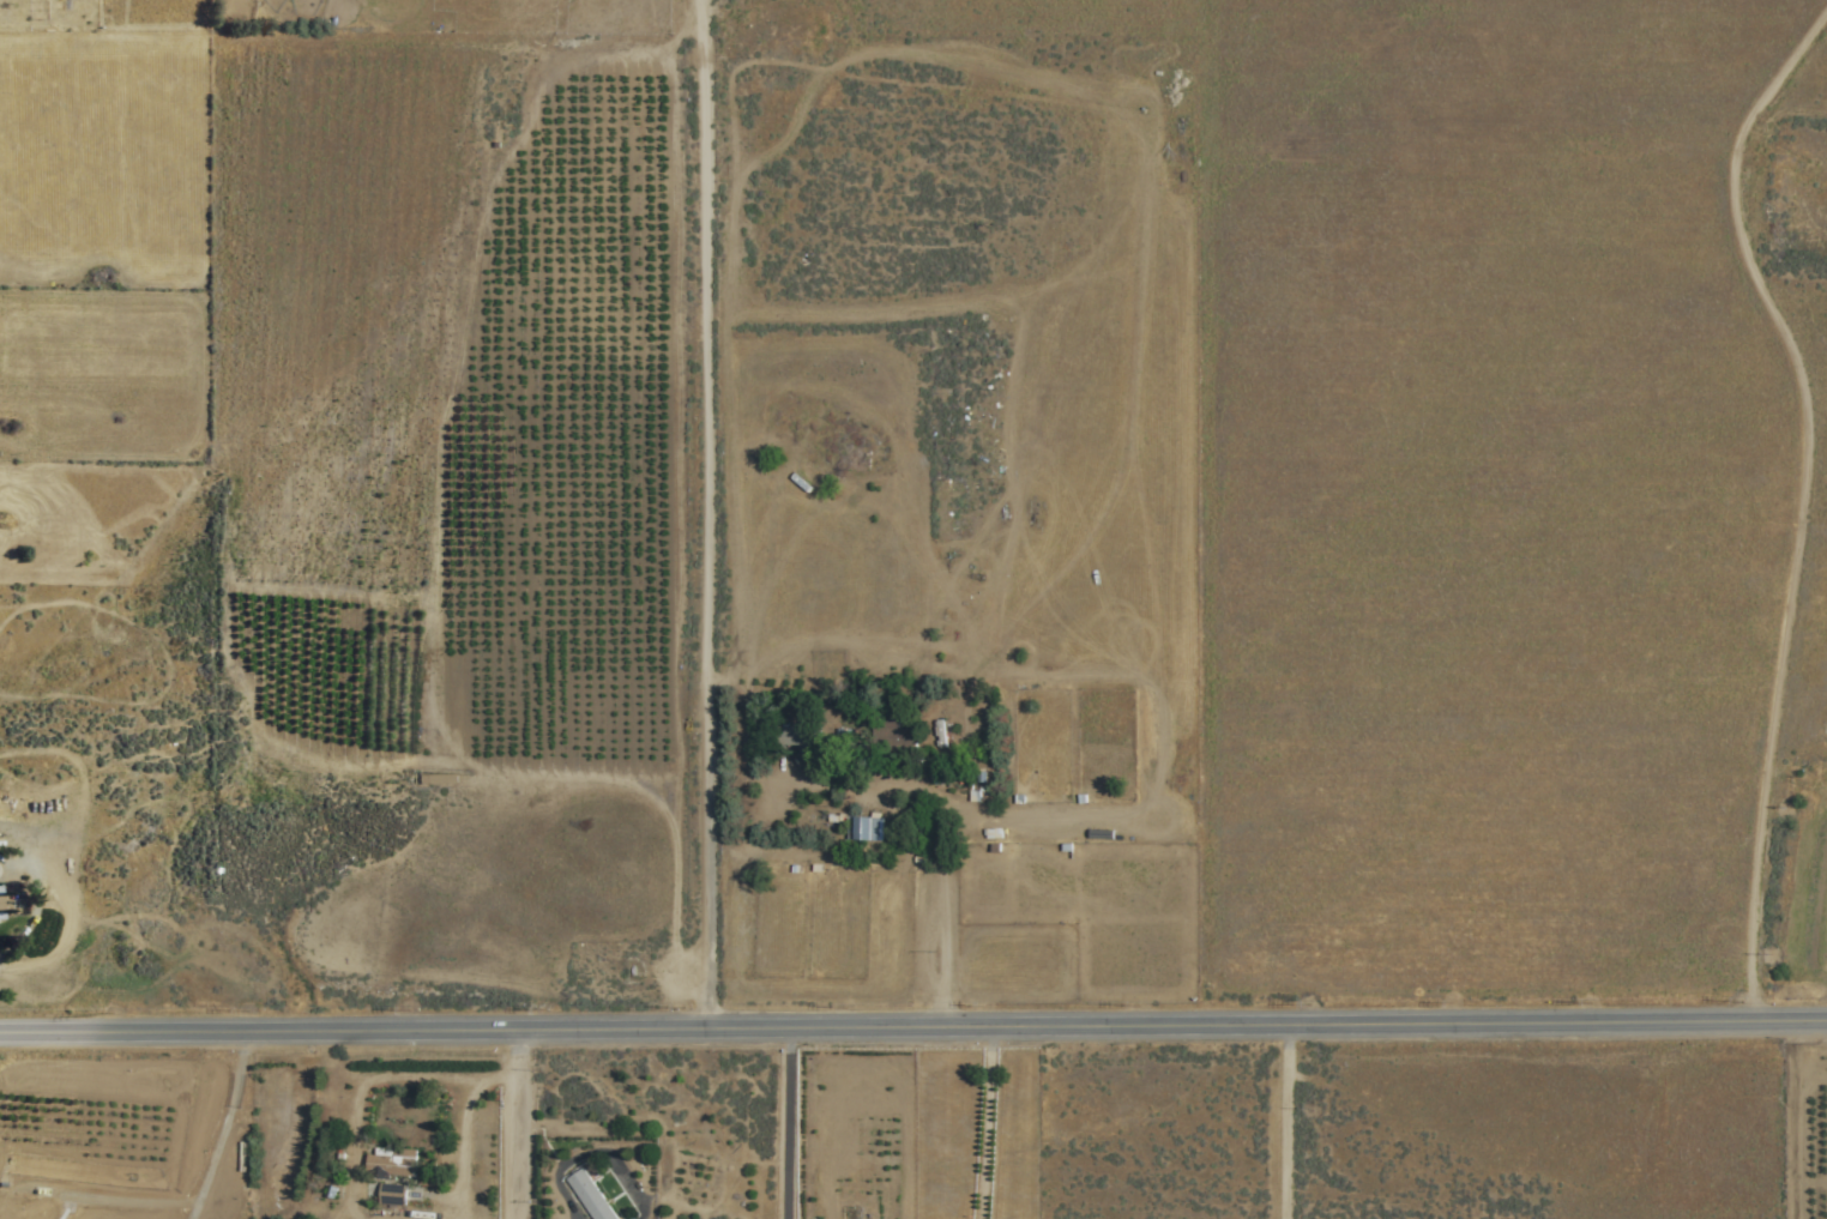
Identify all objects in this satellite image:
road: (1802, 501)
road: (705, 508)
building: (896, 734)
building: (843, 735)
building: (796, 737)
building: (428, 779)
road: (876, 792)
building: (864, 828)
building: (0, 916)
road: (912, 1016)
road: (780, 1117)
road: (1284, 1117)
road: (515, 1120)
building: (388, 1165)
building: (589, 1195)
building: (391, 1196)

